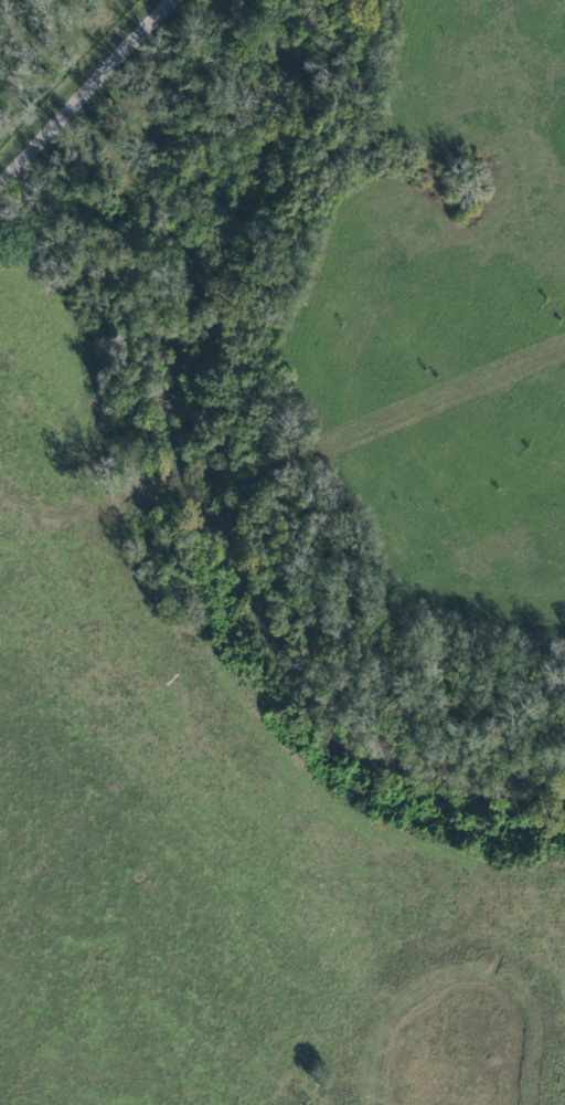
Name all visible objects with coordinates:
road: (83, 90)
park: (136, 113)

